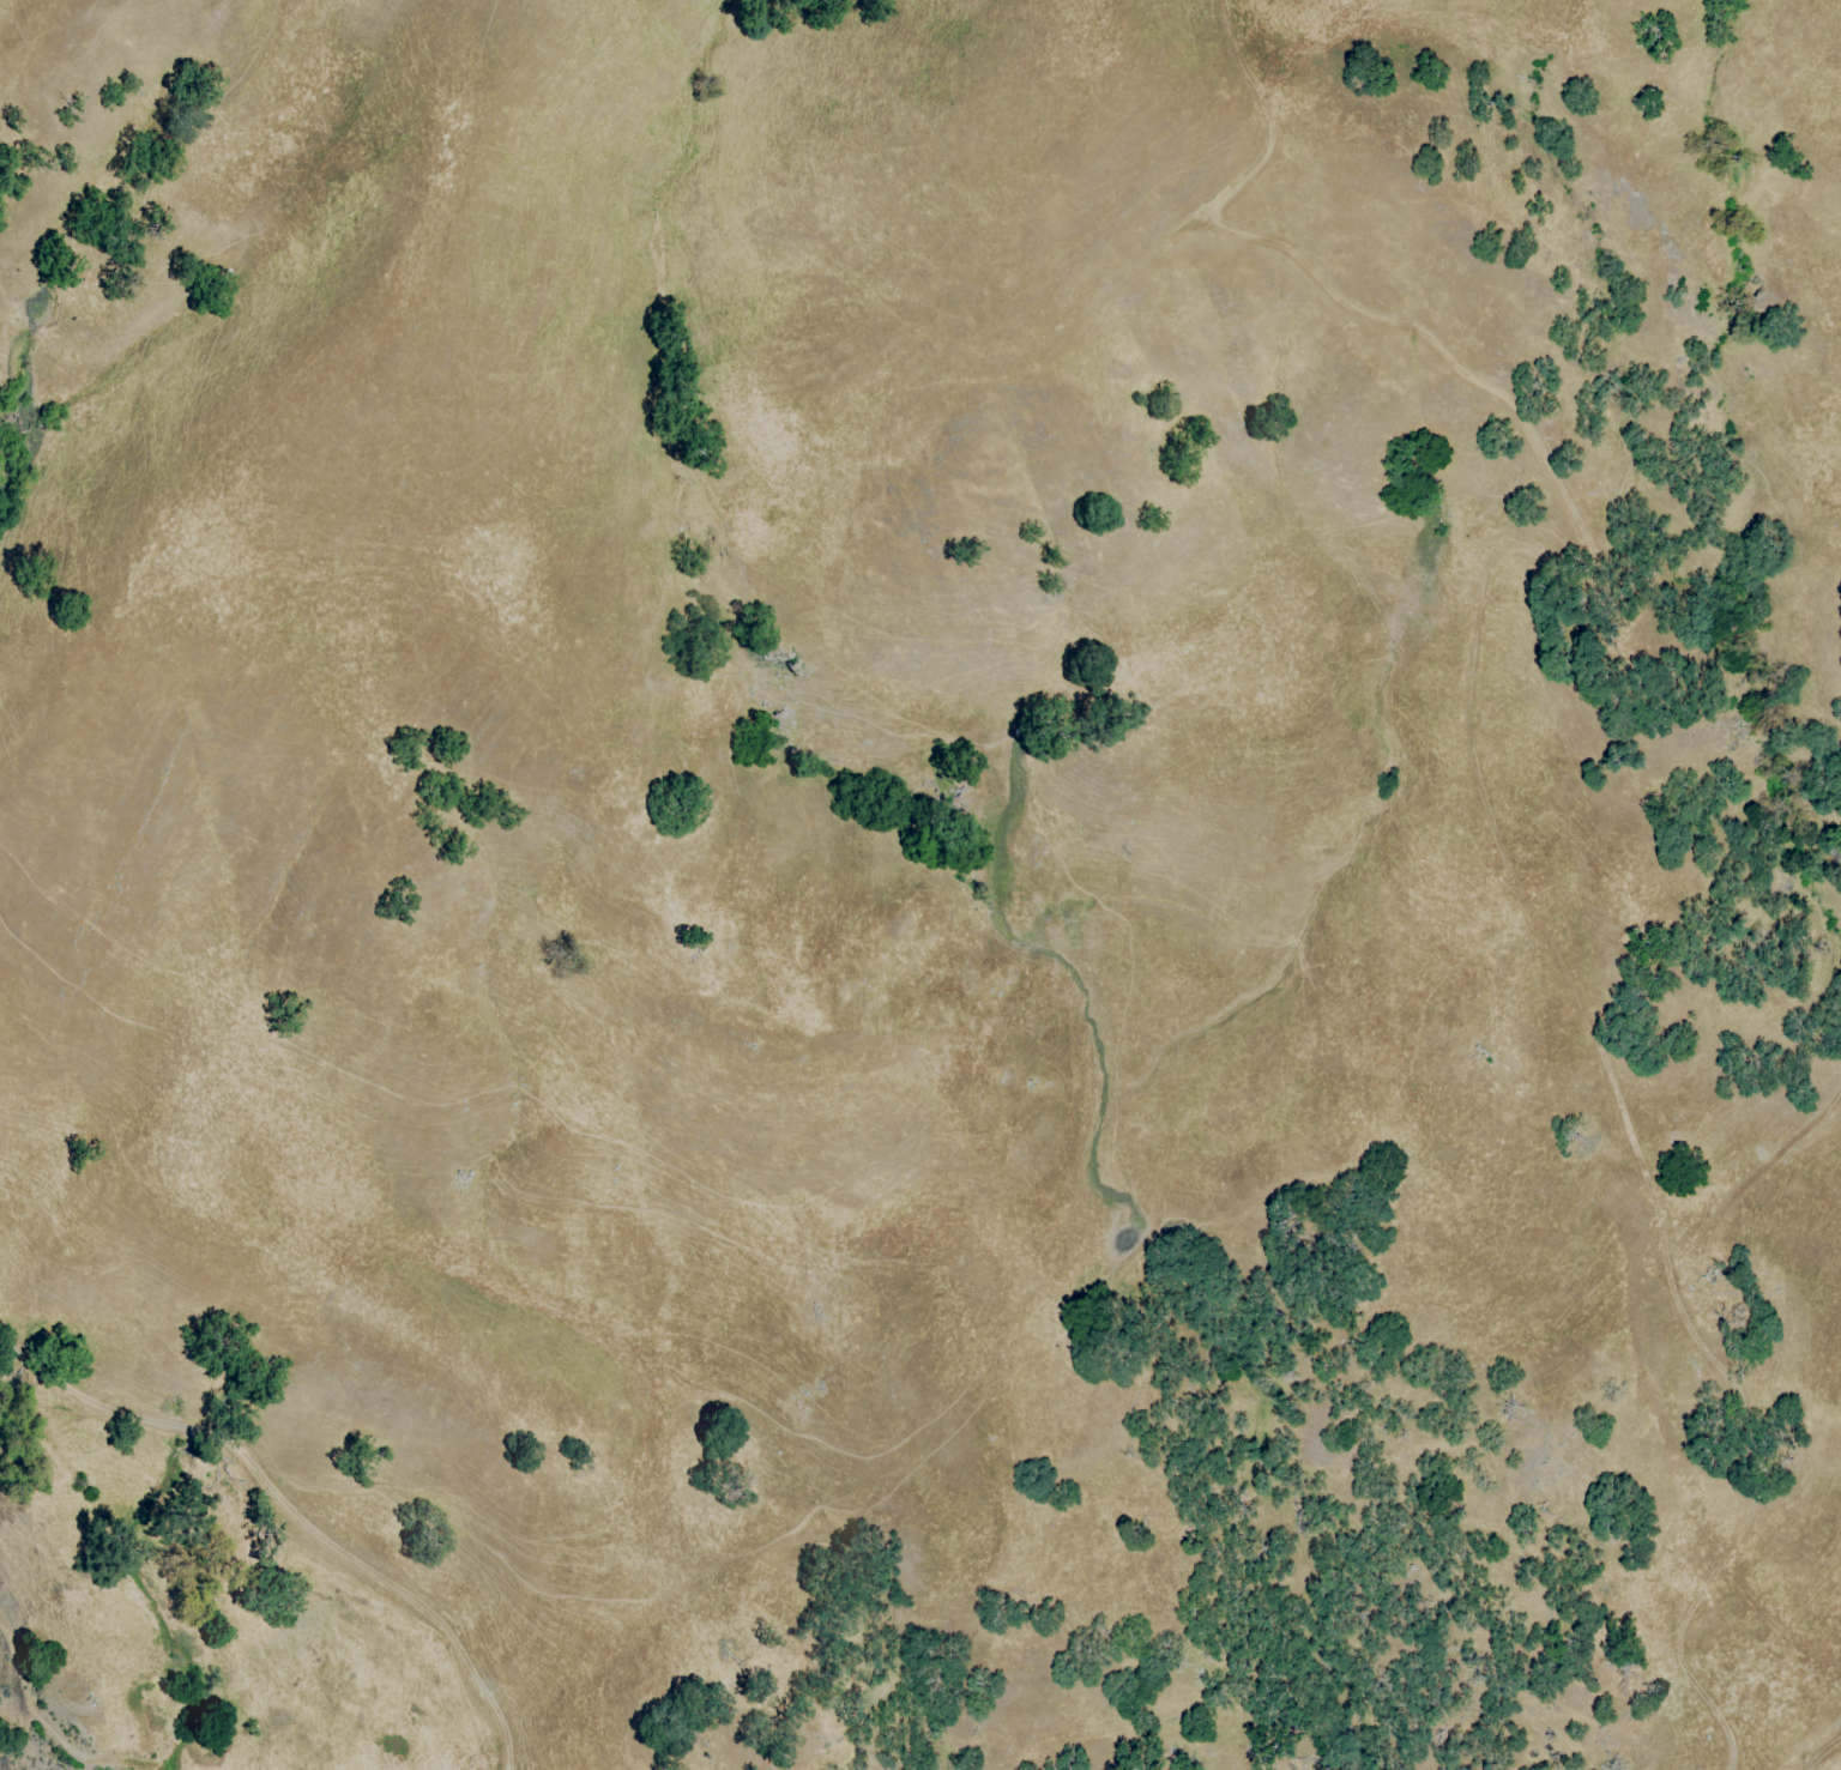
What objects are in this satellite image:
road: (292, 1506)

